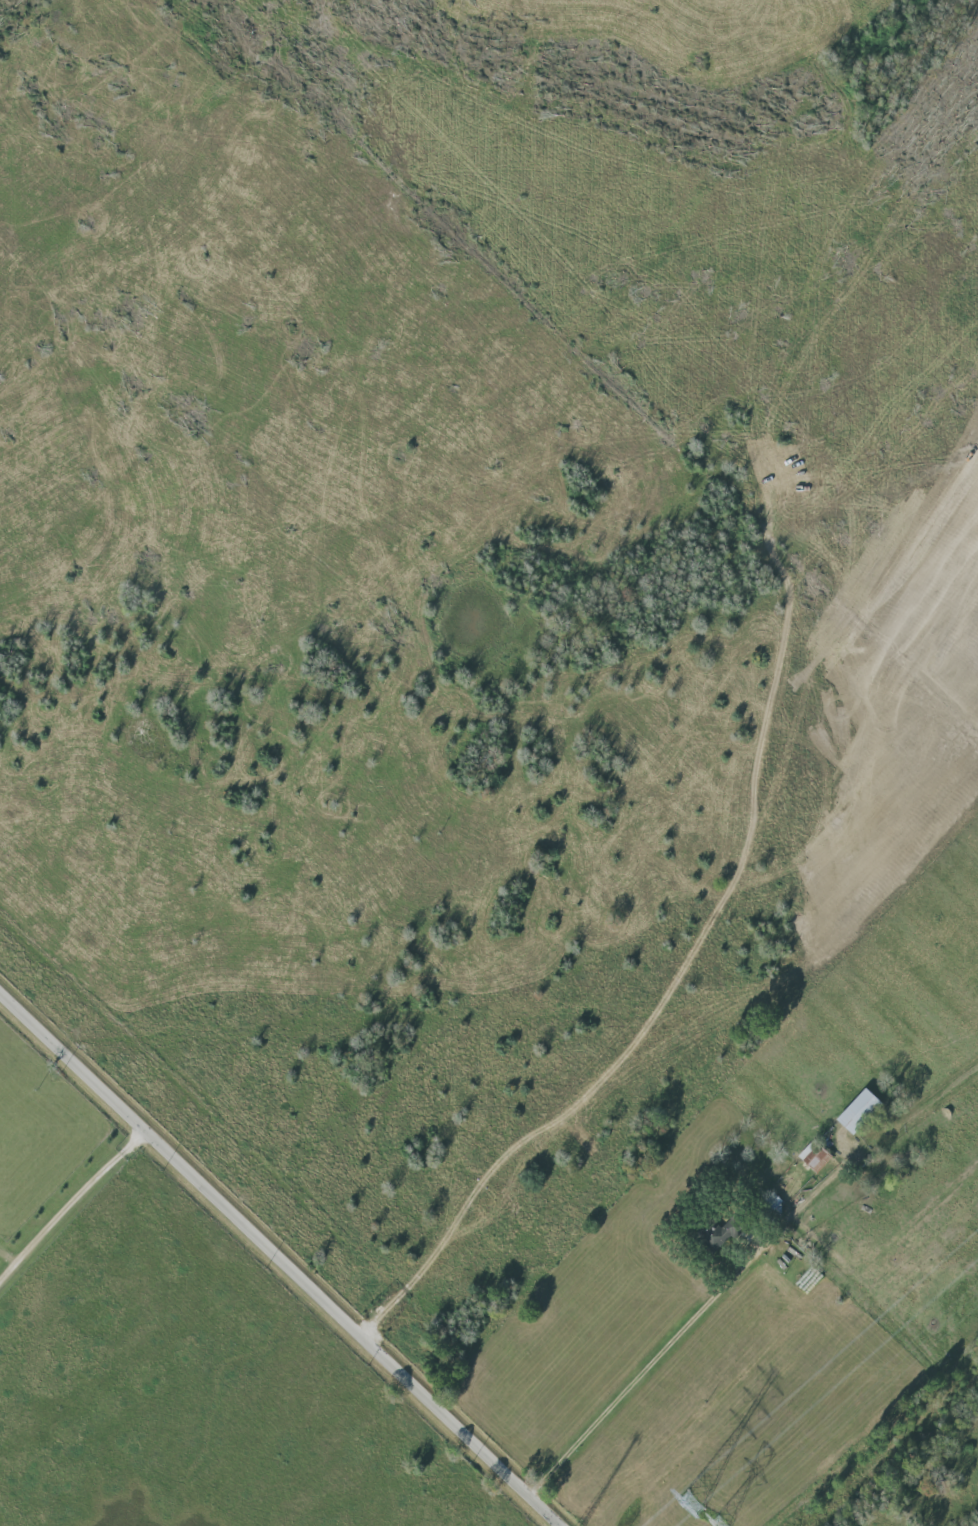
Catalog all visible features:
building: (863, 1111)
building: (816, 1157)
road: (71, 1203)
building: (722, 1234)
road: (282, 1258)
road: (744, 1273)
railway: (900, 1454)
power tower: (694, 1504)

